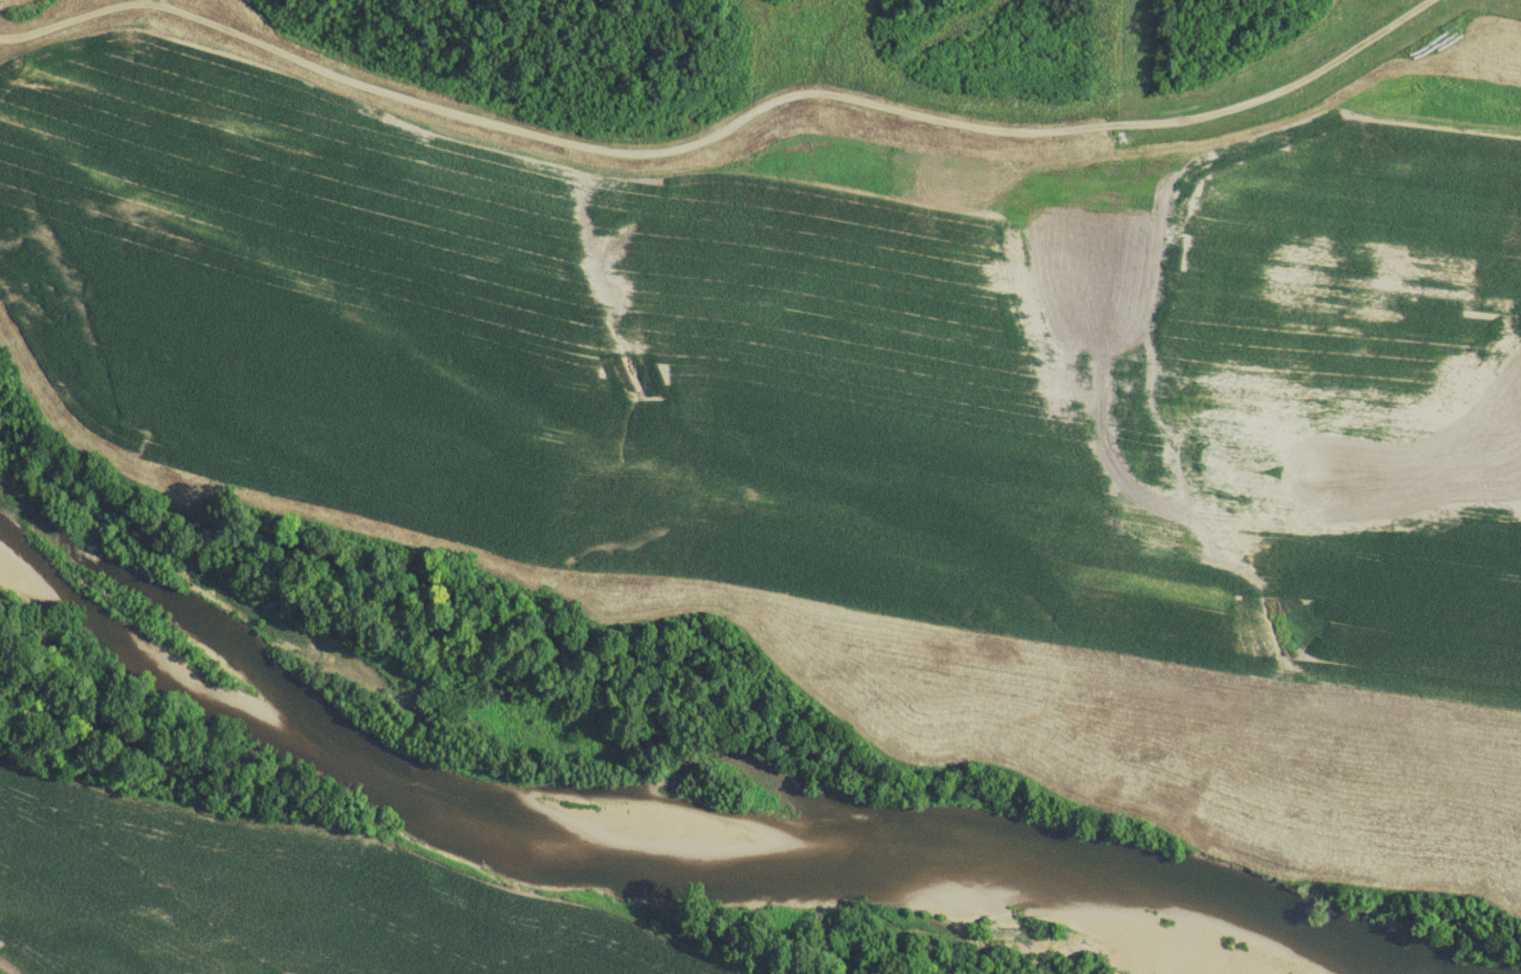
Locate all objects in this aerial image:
road: (68, 21)
road: (795, 91)
river: (646, 819)

